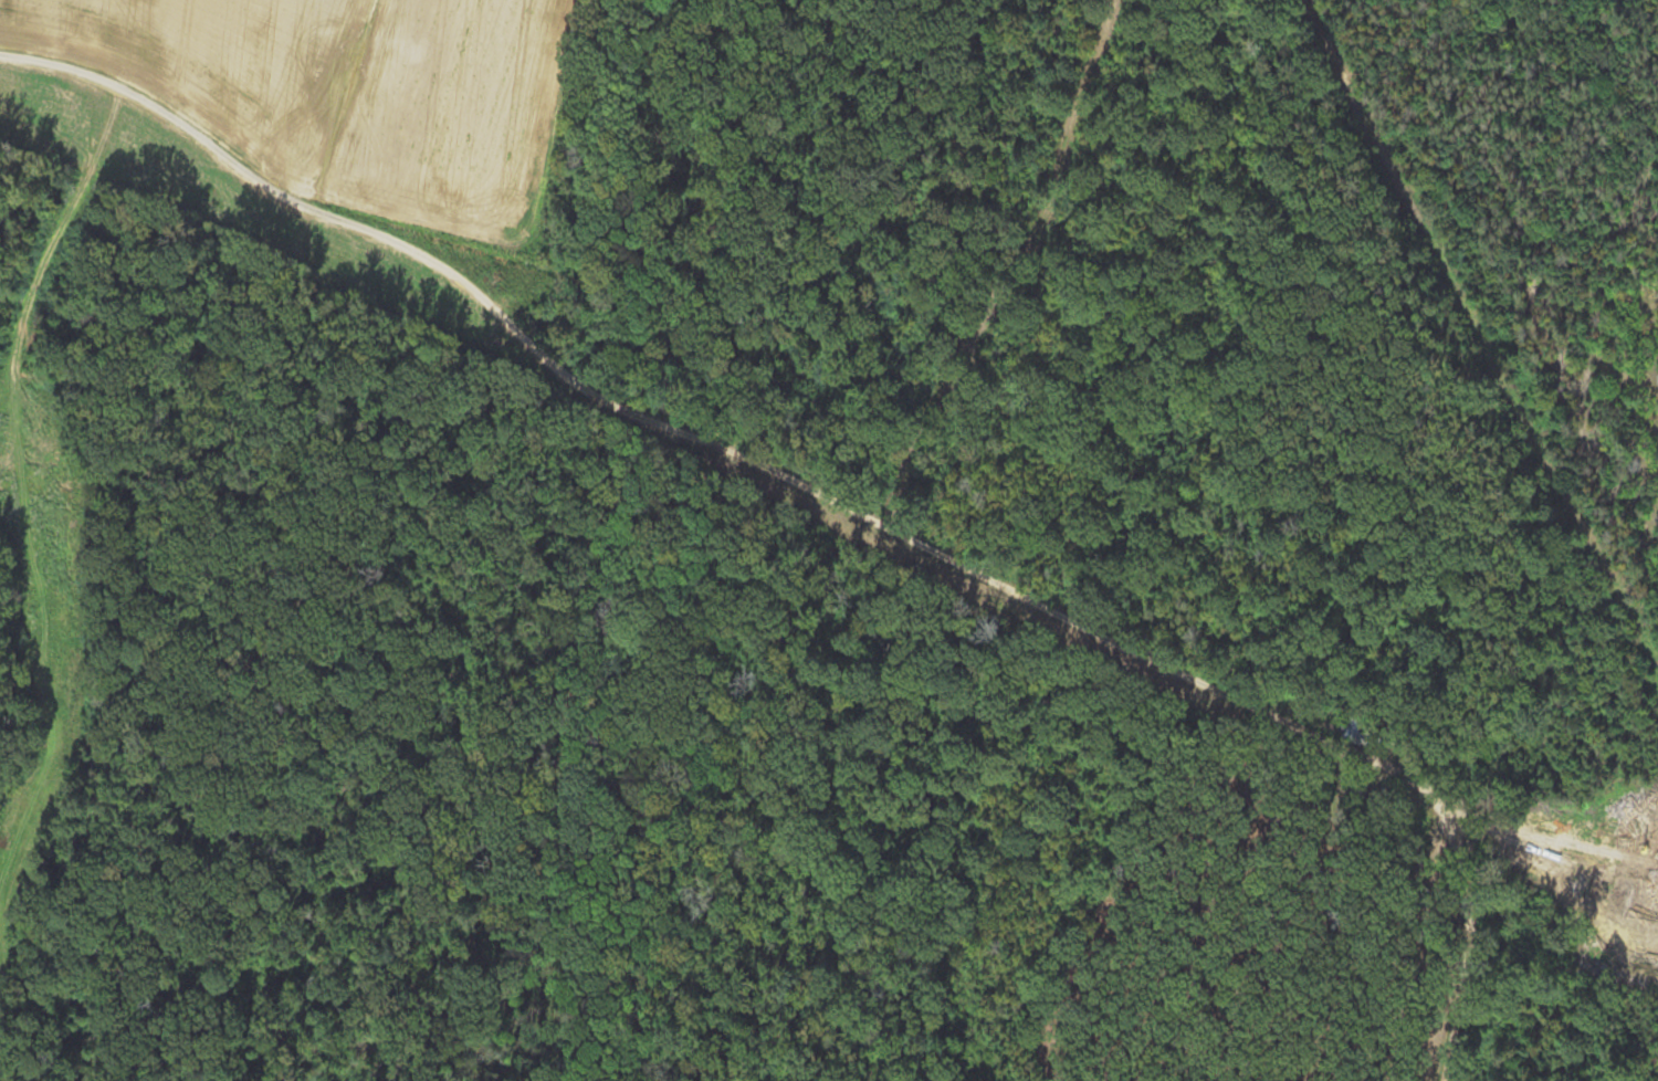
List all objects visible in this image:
road: (804, 502)
building: (1344, 730)

